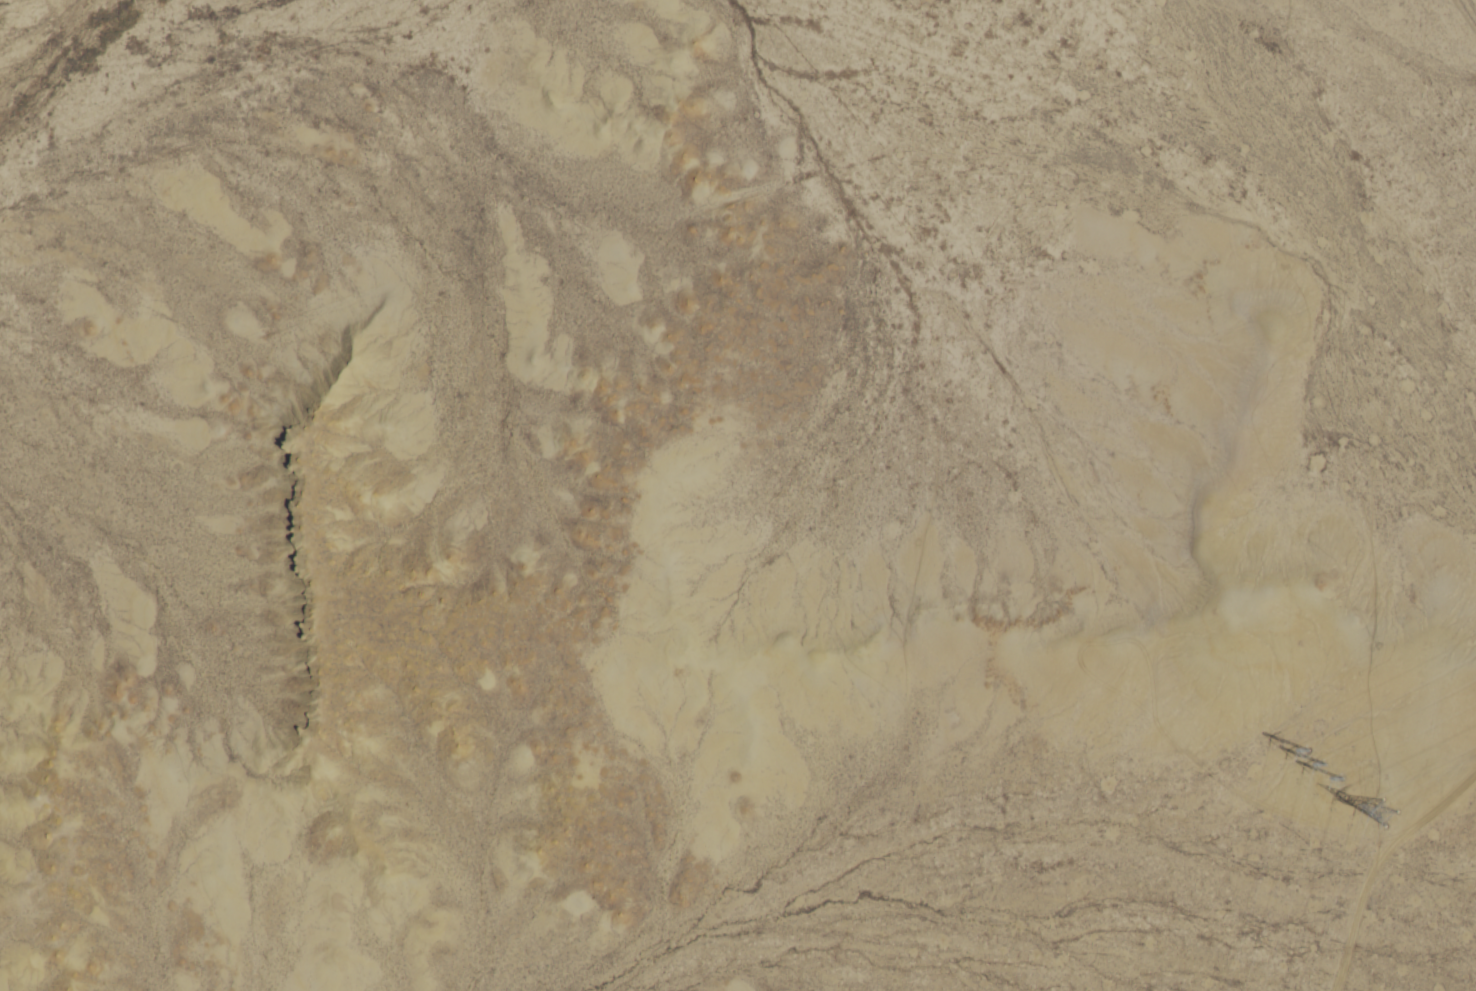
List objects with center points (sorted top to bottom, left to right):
power tower: (1320, 753)
power tower: (1382, 804)

